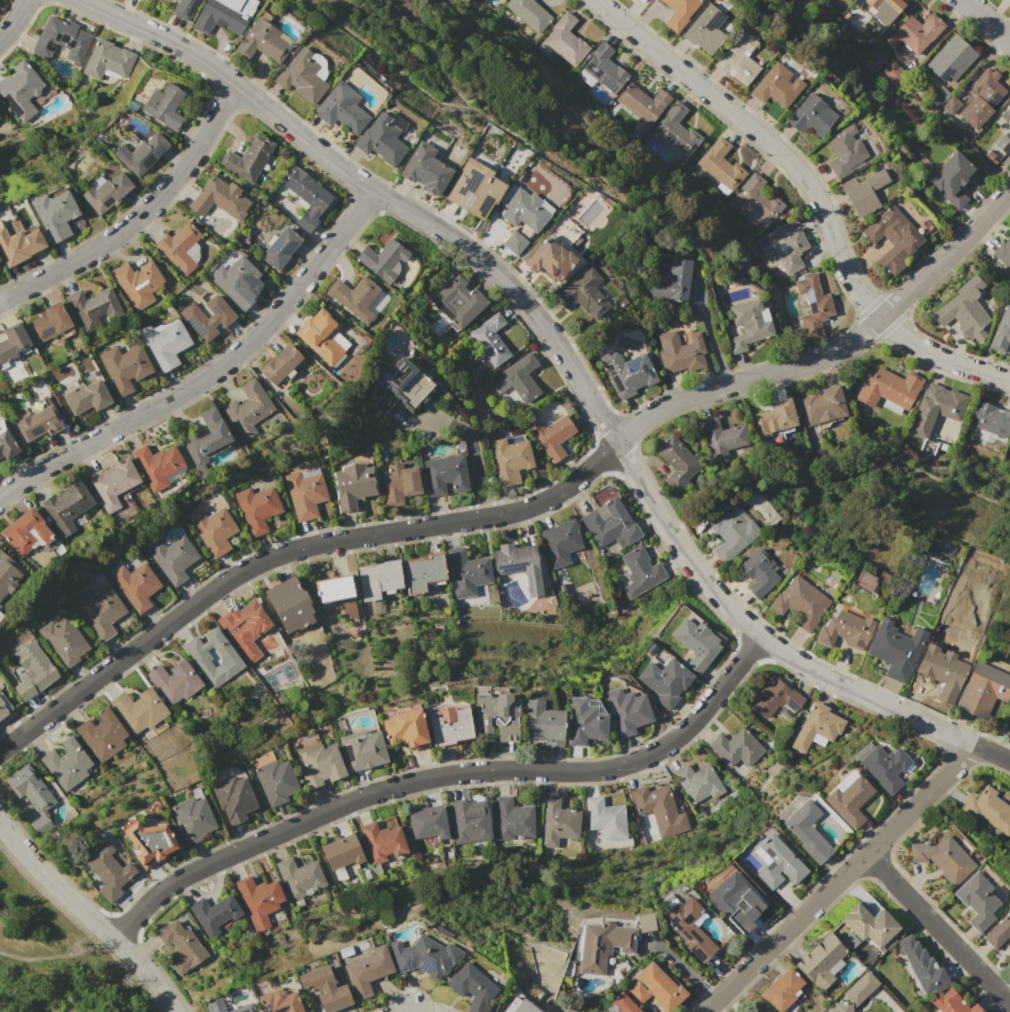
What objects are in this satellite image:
building: (183, 8)
building: (882, 9)
building: (676, 11)
building: (528, 14)
building: (219, 15)
road: (986, 21)
road: (15, 22)
building: (703, 31)
building: (917, 33)
building: (61, 40)
building: (262, 41)
building: (565, 42)
building: (737, 59)
building: (107, 60)
building: (950, 60)
building: (603, 69)
building: (892, 74)
building: (300, 76)
building: (775, 86)
building: (987, 89)
building: (20, 90)
building: (940, 96)
building: (949, 102)
building: (641, 103)
building: (164, 106)
building: (341, 108)
building: (809, 116)
building: (1006, 116)
building: (676, 131)
building: (381, 138)
building: (1003, 144)
building: (140, 150)
building: (845, 153)
building: (246, 158)
building: (720, 166)
building: (424, 169)
building: (954, 179)
building: (473, 190)
building: (863, 190)
building: (106, 191)
building: (306, 191)
road: (811, 192)
building: (755, 201)
building: (217, 204)
building: (523, 211)
building: (56, 214)
road: (140, 216)
building: (306, 221)
building: (891, 238)
building: (18, 239)
building: (512, 242)
building: (784, 245)
building: (182, 246)
building: (279, 248)
building: (1003, 254)
building: (381, 260)
building: (548, 261)
building: (139, 281)
building: (235, 282)
building: (669, 282)
building: (582, 294)
building: (353, 299)
building: (457, 302)
building: (91, 305)
building: (811, 305)
building: (960, 312)
building: (208, 319)
building: (46, 322)
building: (748, 323)
building: (1001, 330)
building: (323, 337)
road: (710, 337)
building: (489, 340)
building: (12, 341)
building: (163, 344)
building: (678, 351)
road: (565, 362)
building: (279, 364)
building: (123, 367)
road: (211, 373)
building: (627, 373)
building: (516, 379)
building: (401, 381)
building: (885, 388)
building: (85, 397)
building: (939, 403)
building: (820, 405)
building: (248, 409)
building: (774, 417)
building: (989, 418)
building: (36, 422)
building: (551, 436)
building: (205, 437)
building: (723, 438)
building: (5, 443)
road: (478, 456)
building: (507, 461)
building: (676, 462)
building: (157, 466)
building: (442, 475)
building: (111, 482)
building: (397, 484)
building: (351, 486)
building: (304, 493)
building: (64, 507)
building: (256, 508)
road: (525, 509)
building: (610, 524)
building: (212, 531)
building: (731, 532)
building: (26, 534)
building: (558, 546)
building: (172, 559)
building: (518, 565)
building: (758, 571)
building: (419, 573)
building: (464, 573)
building: (639, 573)
building: (8, 575)
building: (376, 579)
building: (863, 580)
building: (134, 585)
building: (330, 590)
building: (798, 602)
building: (287, 605)
building: (99, 612)
building: (243, 627)
building: (845, 628)
building: (62, 641)
building: (695, 644)
building: (894, 648)
building: (211, 656)
building: (34, 666)
building: (940, 670)
building: (664, 681)
building: (173, 682)
building: (23, 690)
building: (982, 692)
building: (772, 696)
building: (137, 710)
building: (2, 711)
building: (625, 711)
building: (495, 718)
building: (540, 723)
building: (584, 724)
building: (814, 724)
building: (448, 726)
building: (1008, 727)
building: (403, 730)
building: (100, 735)
building: (734, 748)
building: (361, 750)
building: (883, 764)
building: (65, 765)
building: (319, 766)
road: (440, 775)
building: (694, 777)
building: (274, 782)
building: (28, 791)
building: (232, 798)
building: (847, 798)
building: (658, 805)
building: (988, 809)
building: (512, 817)
building: (605, 817)
building: (191, 819)
building: (468, 820)
building: (556, 822)
building: (428, 824)
building: (805, 831)
building: (382, 839)
building: (149, 845)
building: (340, 852)
building: (941, 858)
building: (777, 862)
building: (297, 875)
building: (107, 876)
road: (835, 877)
building: (258, 894)
building: (732, 900)
building: (976, 900)
building: (214, 914)
road: (87, 917)
building: (643, 921)
building: (869, 924)
building: (687, 925)
road: (936, 927)
building: (998, 932)
building: (181, 947)
building: (604, 949)
building: (1009, 949)
road: (55, 955)
park: (55, 958)
building: (423, 958)
building: (821, 961)
building: (922, 966)
road: (681, 967)
building: (365, 972)
building: (653, 985)
building: (324, 986)
building: (469, 988)
building: (783, 990)
building: (855, 993)
building: (278, 1002)
building: (951, 1003)
building: (622, 1004)
building: (215, 1007)
building: (519, 1008)
building: (243, 1009)
road: (405, 1011)
building: (759, 1011)

